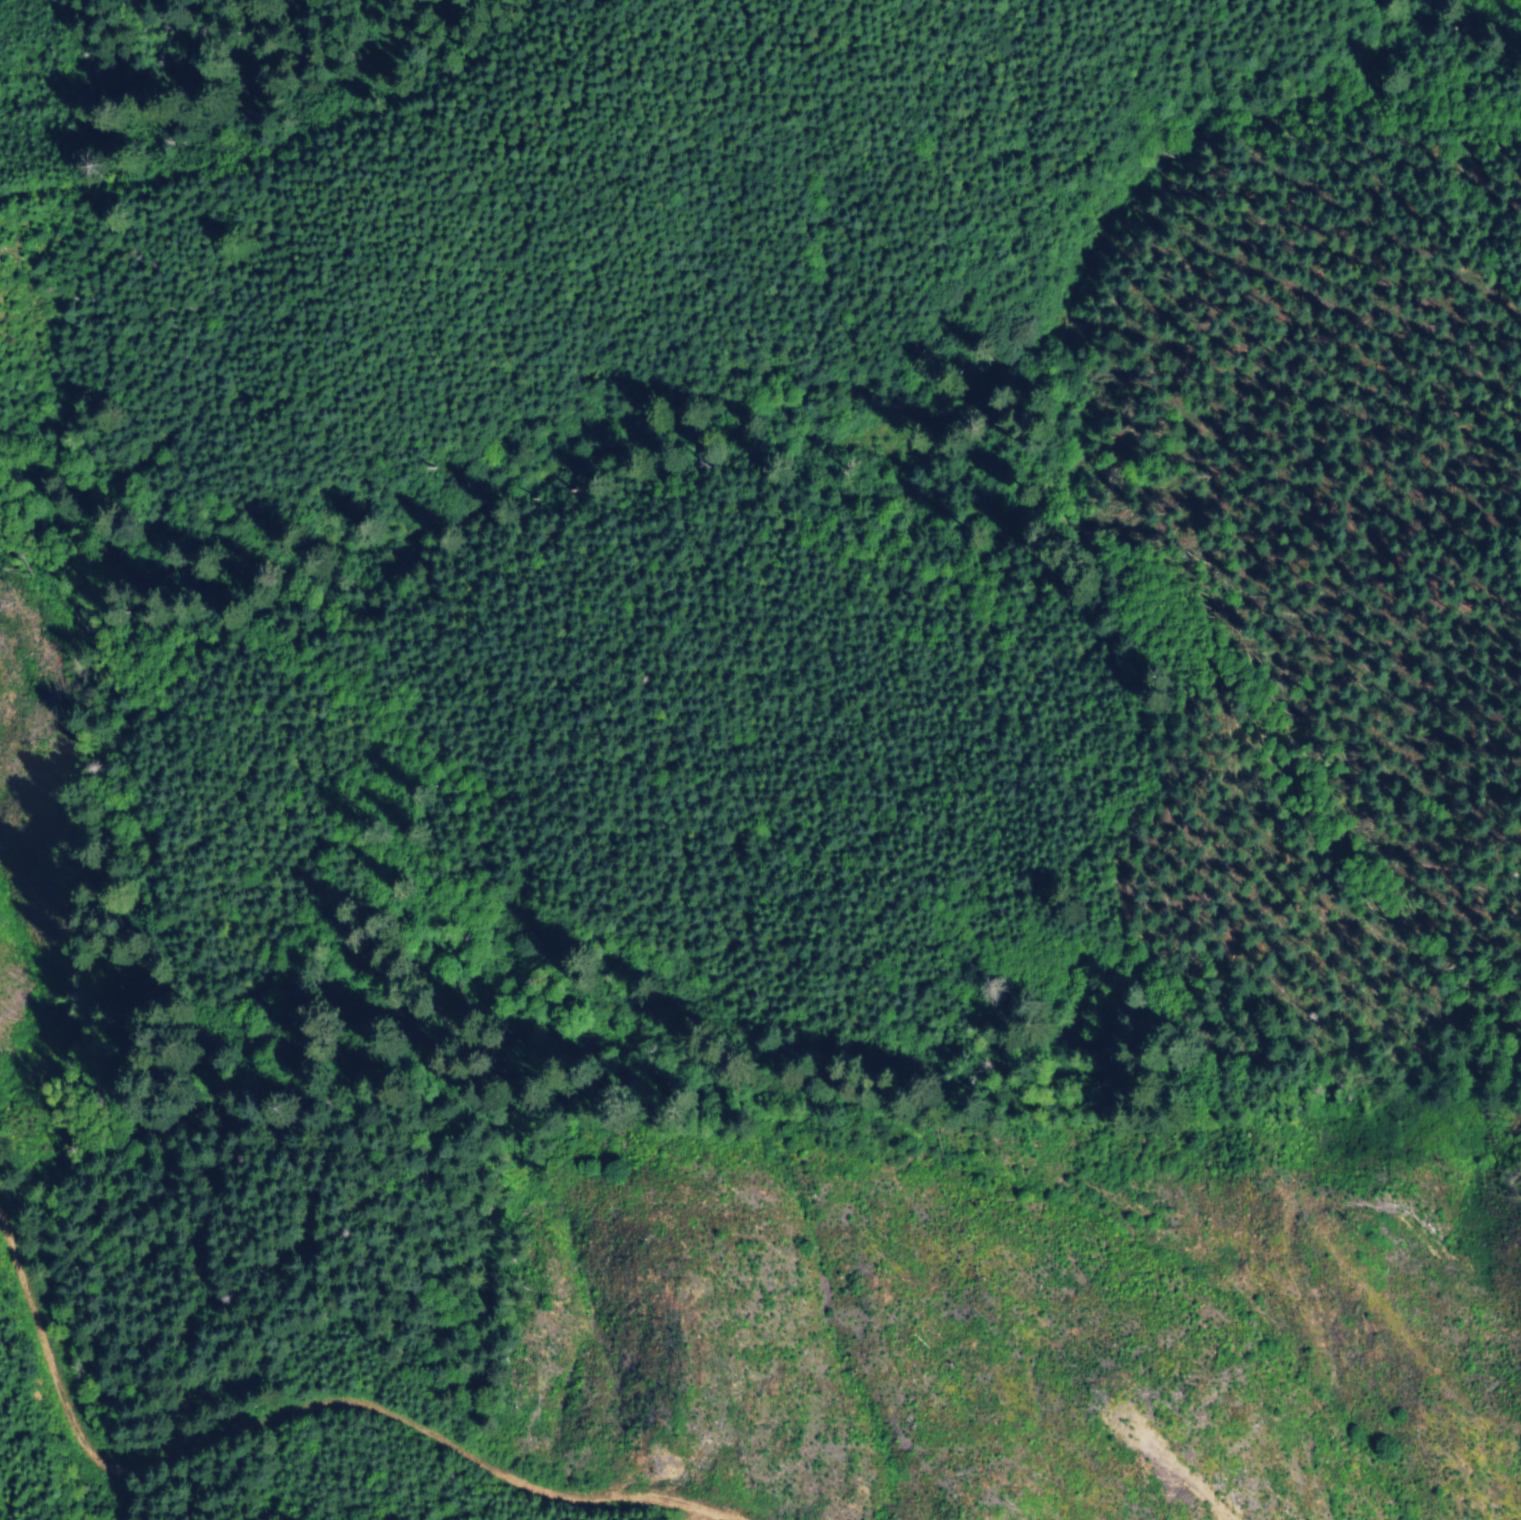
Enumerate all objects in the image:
road: (118, 1381)

